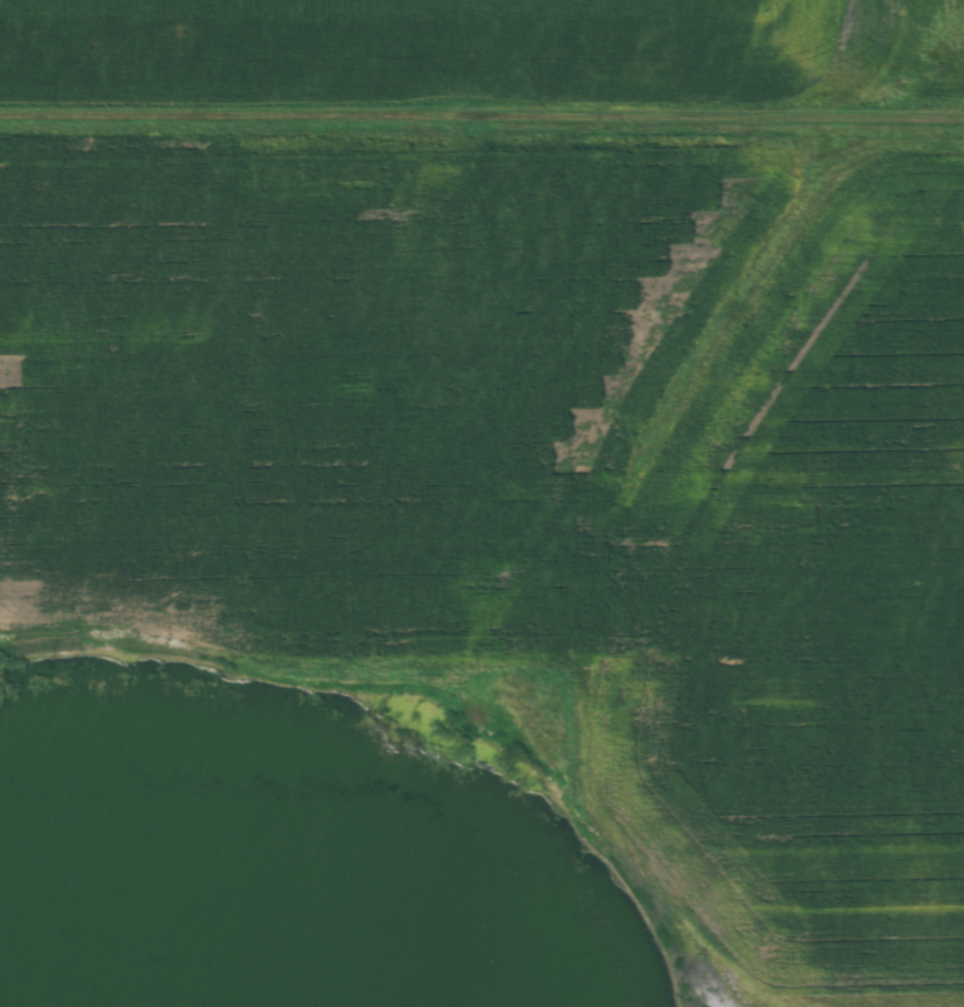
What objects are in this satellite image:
road: (482, 112)

